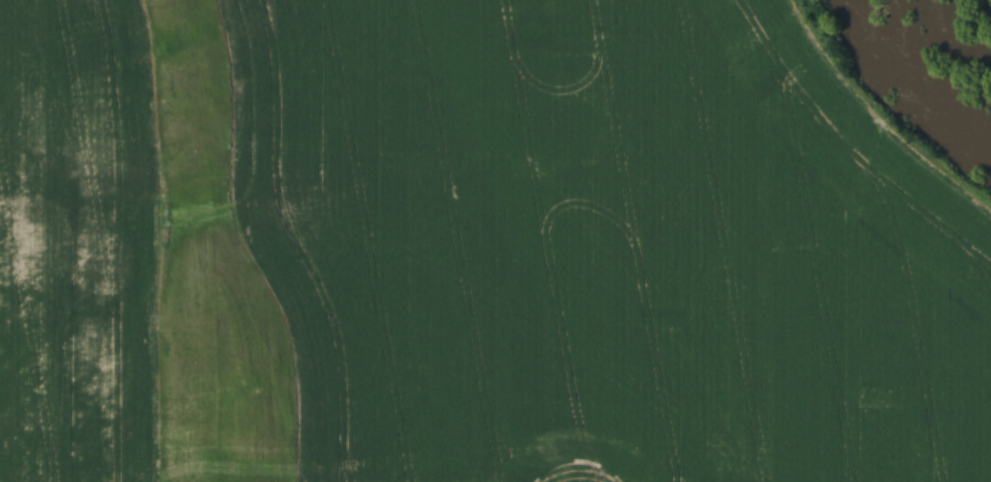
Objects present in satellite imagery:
river: (907, 81)

